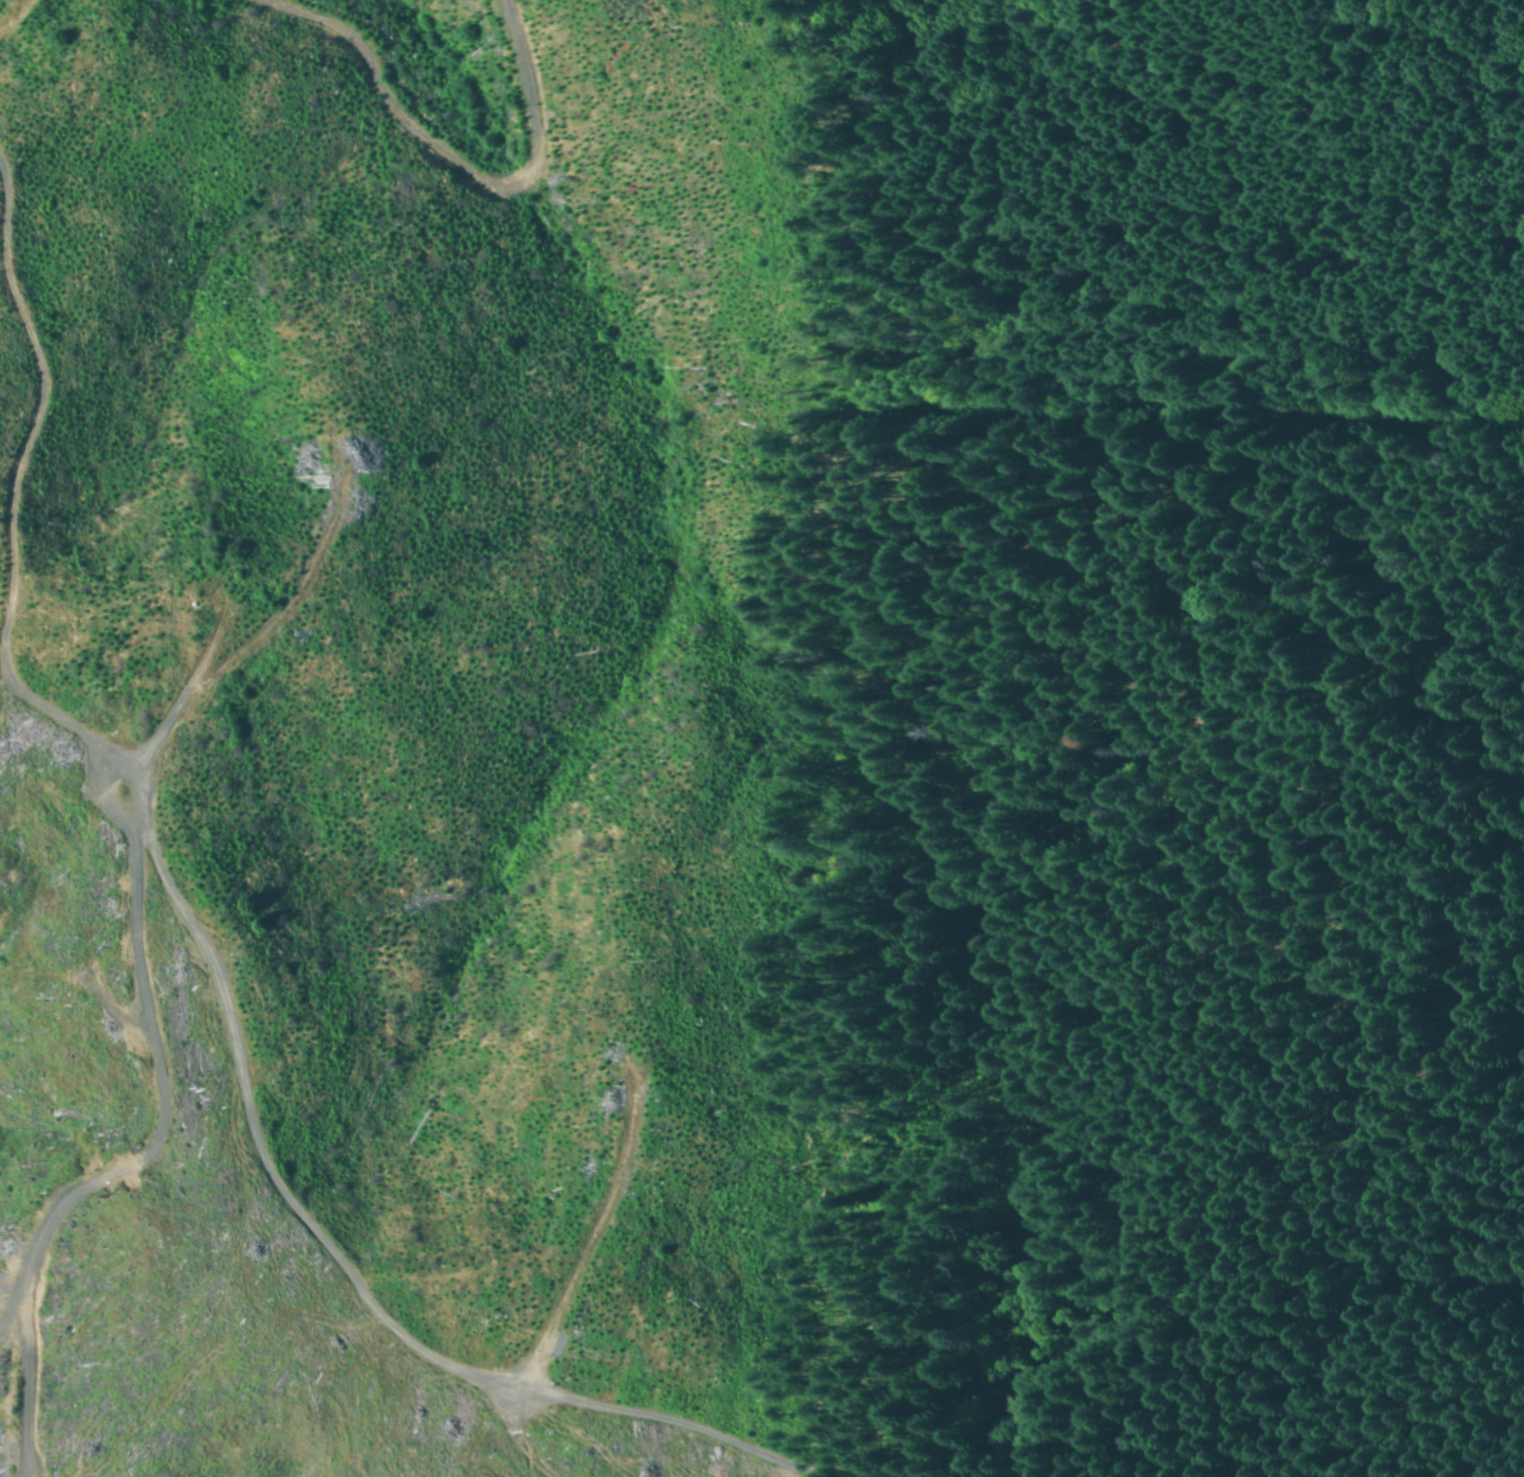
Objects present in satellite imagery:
road: (1272, 600)
road: (9, 679)
road: (1395, 847)
road: (1342, 898)
road: (1438, 1022)
road: (1434, 1069)
road: (1234, 1134)

